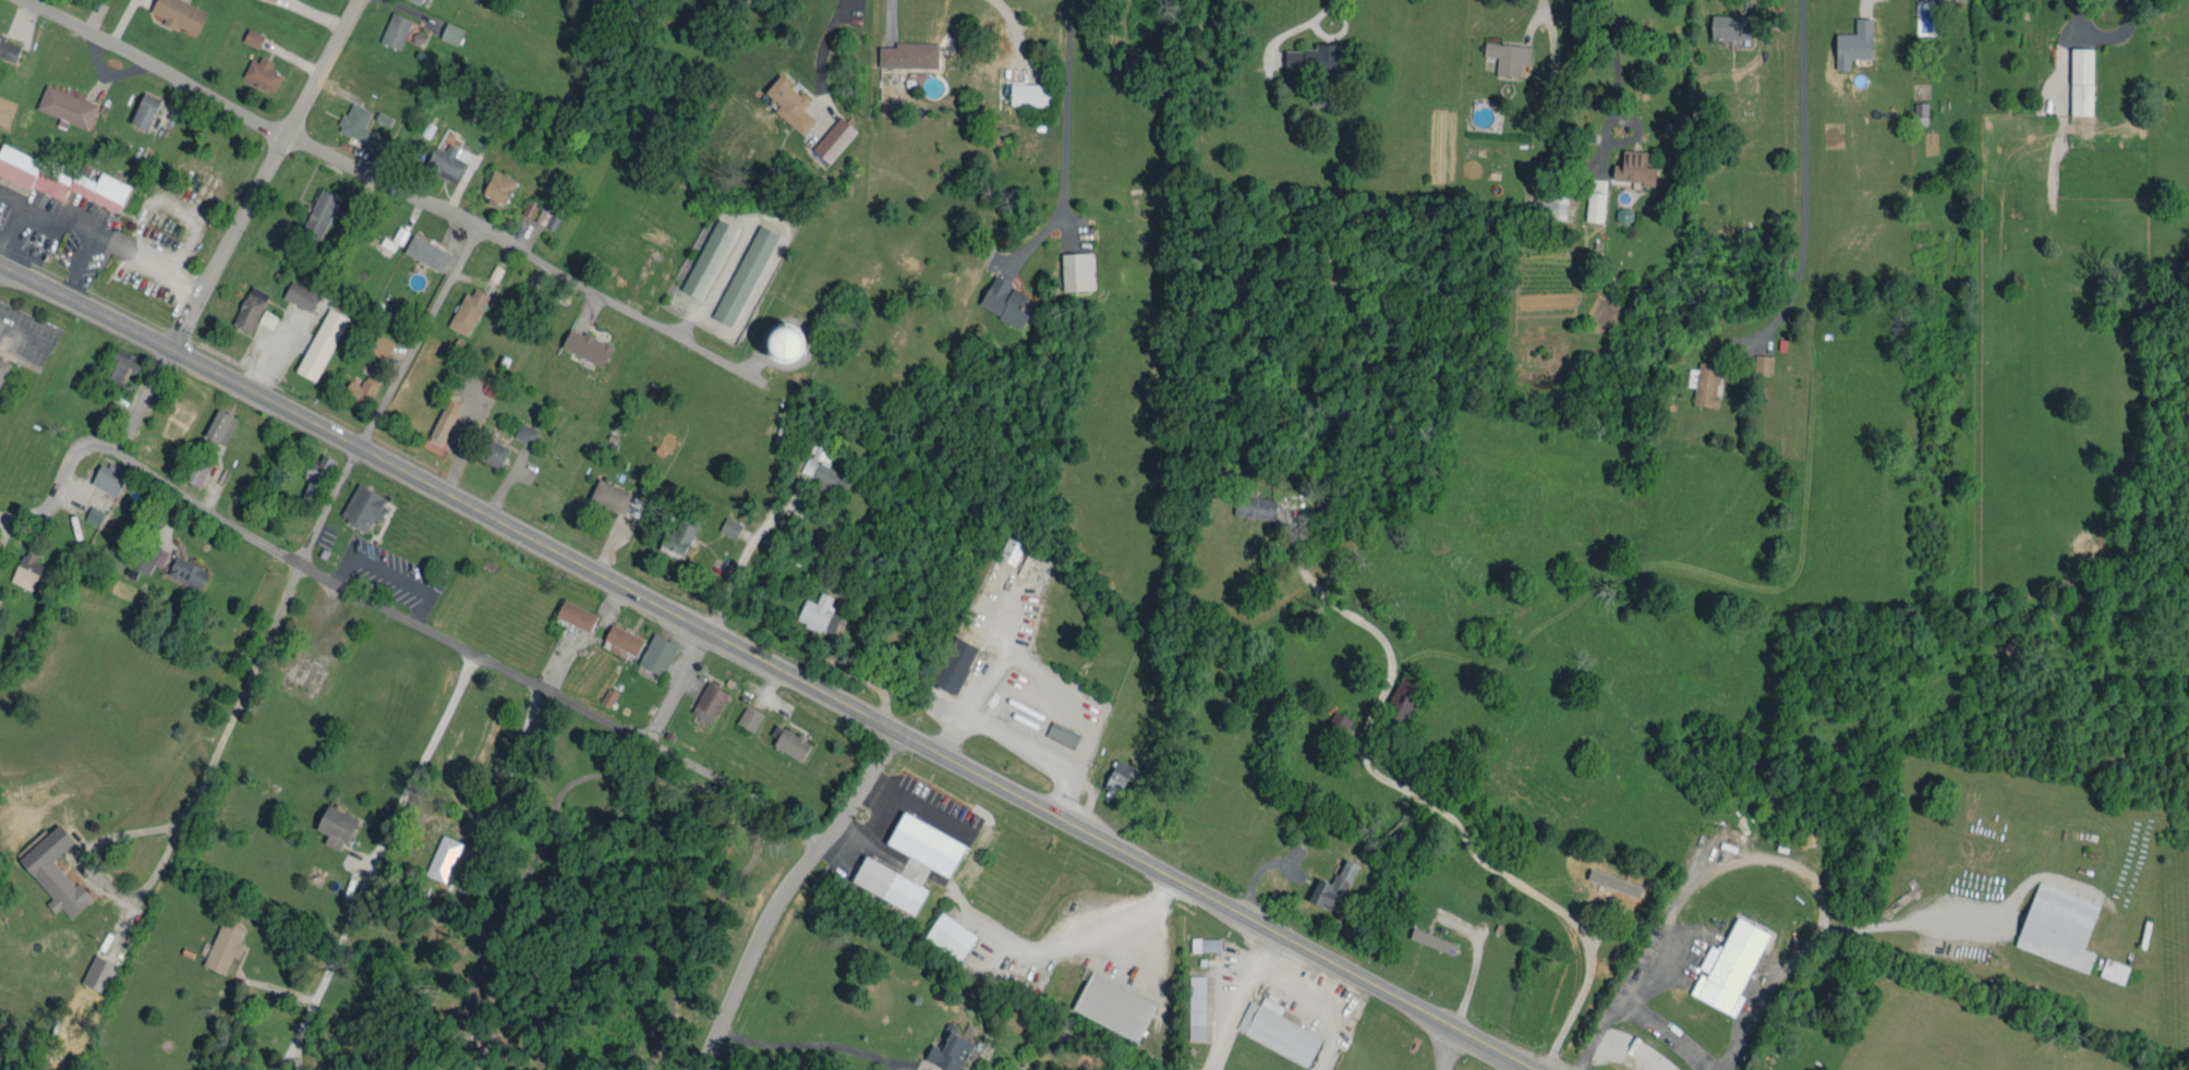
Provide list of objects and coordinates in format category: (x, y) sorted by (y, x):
building: (420, 0)
road: (1859, 2)
road: (1537, 9)
building: (176, 12)
road: (887, 17)
building: (1727, 23)
building: (390, 26)
building: (446, 29)
road: (1296, 29)
building: (247, 34)
building: (1850, 39)
road: (823, 41)
building: (7, 46)
building: (905, 51)
building: (1503, 53)
building: (1310, 54)
road: (1613, 66)
building: (257, 70)
building: (2078, 77)
building: (1027, 90)
road: (1211, 99)
building: (785, 100)
building: (61, 102)
building: (140, 107)
building: (1916, 109)
building: (355, 124)
building: (829, 136)
road: (1063, 137)
road: (294, 138)
building: (442, 158)
building: (1630, 165)
road: (1802, 172)
building: (58, 175)
building: (493, 184)
building: (1592, 196)
building: (315, 210)
road: (49, 218)
road: (233, 224)
building: (396, 232)
building: (422, 248)
building: (704, 255)
road: (74, 262)
road: (156, 266)
building: (1072, 267)
building: (739, 271)
building: (295, 292)
building: (1002, 297)
building: (245, 305)
building: (462, 307)
building: (263, 315)
road: (663, 330)
building: (316, 340)
building: (376, 342)
building: (581, 343)
building: (0, 360)
building: (1758, 361)
building: (117, 362)
building: (1700, 379)
building: (355, 388)
road: (389, 394)
building: (438, 418)
building: (215, 423)
building: (521, 430)
building: (486, 449)
building: (818, 467)
building: (311, 473)
building: (102, 474)
building: (615, 491)
building: (359, 503)
building: (1250, 503)
building: (88, 512)
building: (725, 523)
building: (672, 536)
building: (1006, 548)
road: (748, 549)
building: (145, 554)
building: (22, 567)
building: (182, 569)
building: (811, 608)
building: (571, 611)
road: (402, 616)
building: (617, 636)
building: (652, 650)
building: (951, 661)
road: (771, 662)
road: (680, 685)
building: (603, 694)
building: (1400, 695)
building: (704, 698)
building: (743, 715)
building: (1333, 721)
building: (1057, 731)
road: (229, 739)
building: (787, 740)
road: (511, 773)
building: (1113, 774)
road: (619, 776)
road: (1425, 803)
building: (330, 823)
building: (1297, 835)
building: (438, 855)
road: (363, 856)
road: (351, 860)
building: (49, 870)
building: (884, 881)
building: (1328, 884)
road: (788, 892)
road: (1676, 896)
building: (446, 904)
park: (597, 908)
building: (2055, 923)
building: (945, 933)
road: (1002, 934)
road: (1823, 936)
building: (1201, 941)
building: (1431, 941)
building: (219, 944)
road: (1146, 948)
building: (1730, 965)
building: (1824, 966)
building: (2109, 968)
building: (93, 970)
road: (271, 985)
building: (1109, 1002)
building: (1193, 1005)
building: (1273, 1028)
road: (1666, 1033)
road: (1447, 1046)
road: (811, 1048)
building: (946, 1049)
road: (289, 1053)

